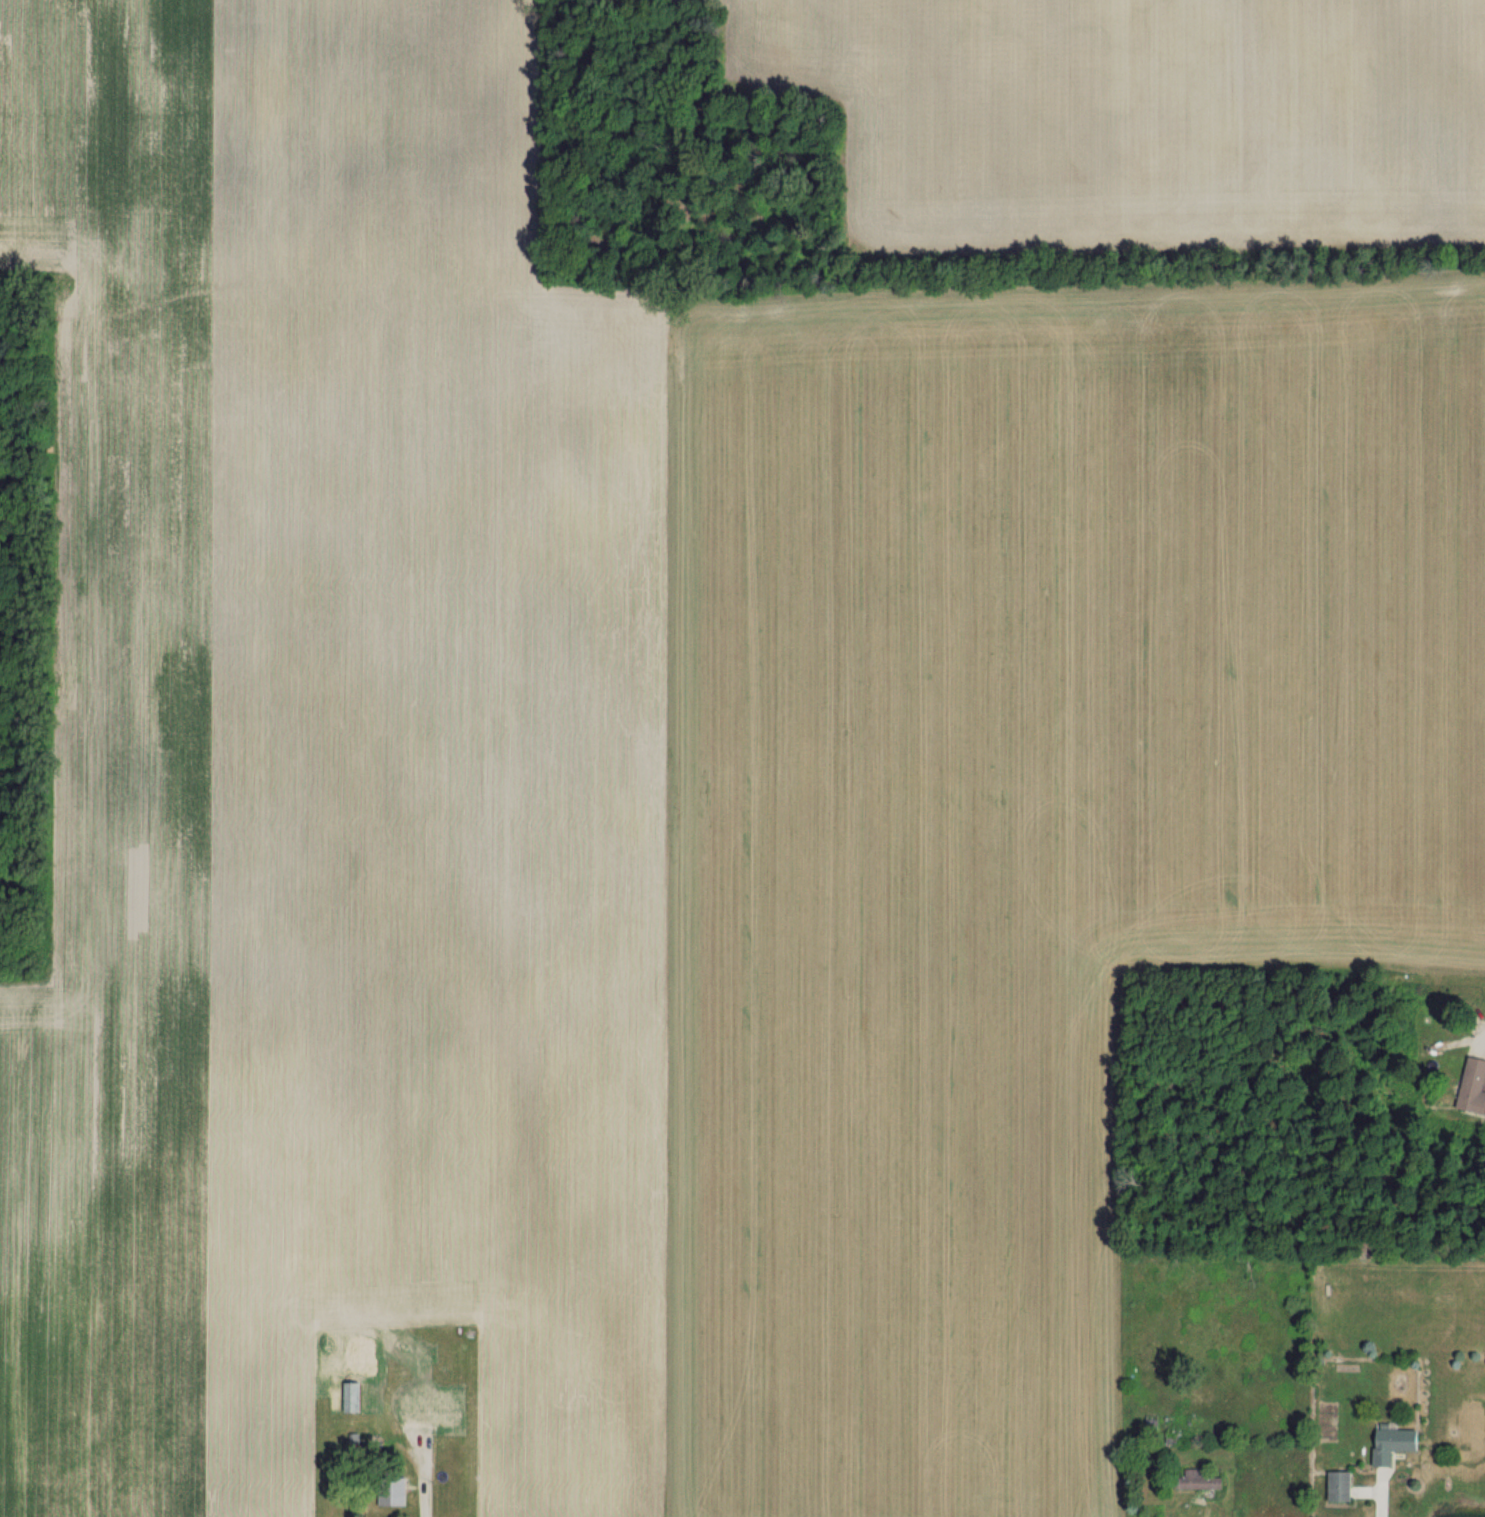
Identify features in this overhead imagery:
building: (1474, 1086)
building: (354, 1396)
building: (436, 1412)
building: (1154, 1425)
building: (1396, 1443)
building: (1202, 1479)
road: (423, 1482)
building: (1341, 1485)
building: (394, 1493)
road: (1373, 1497)

